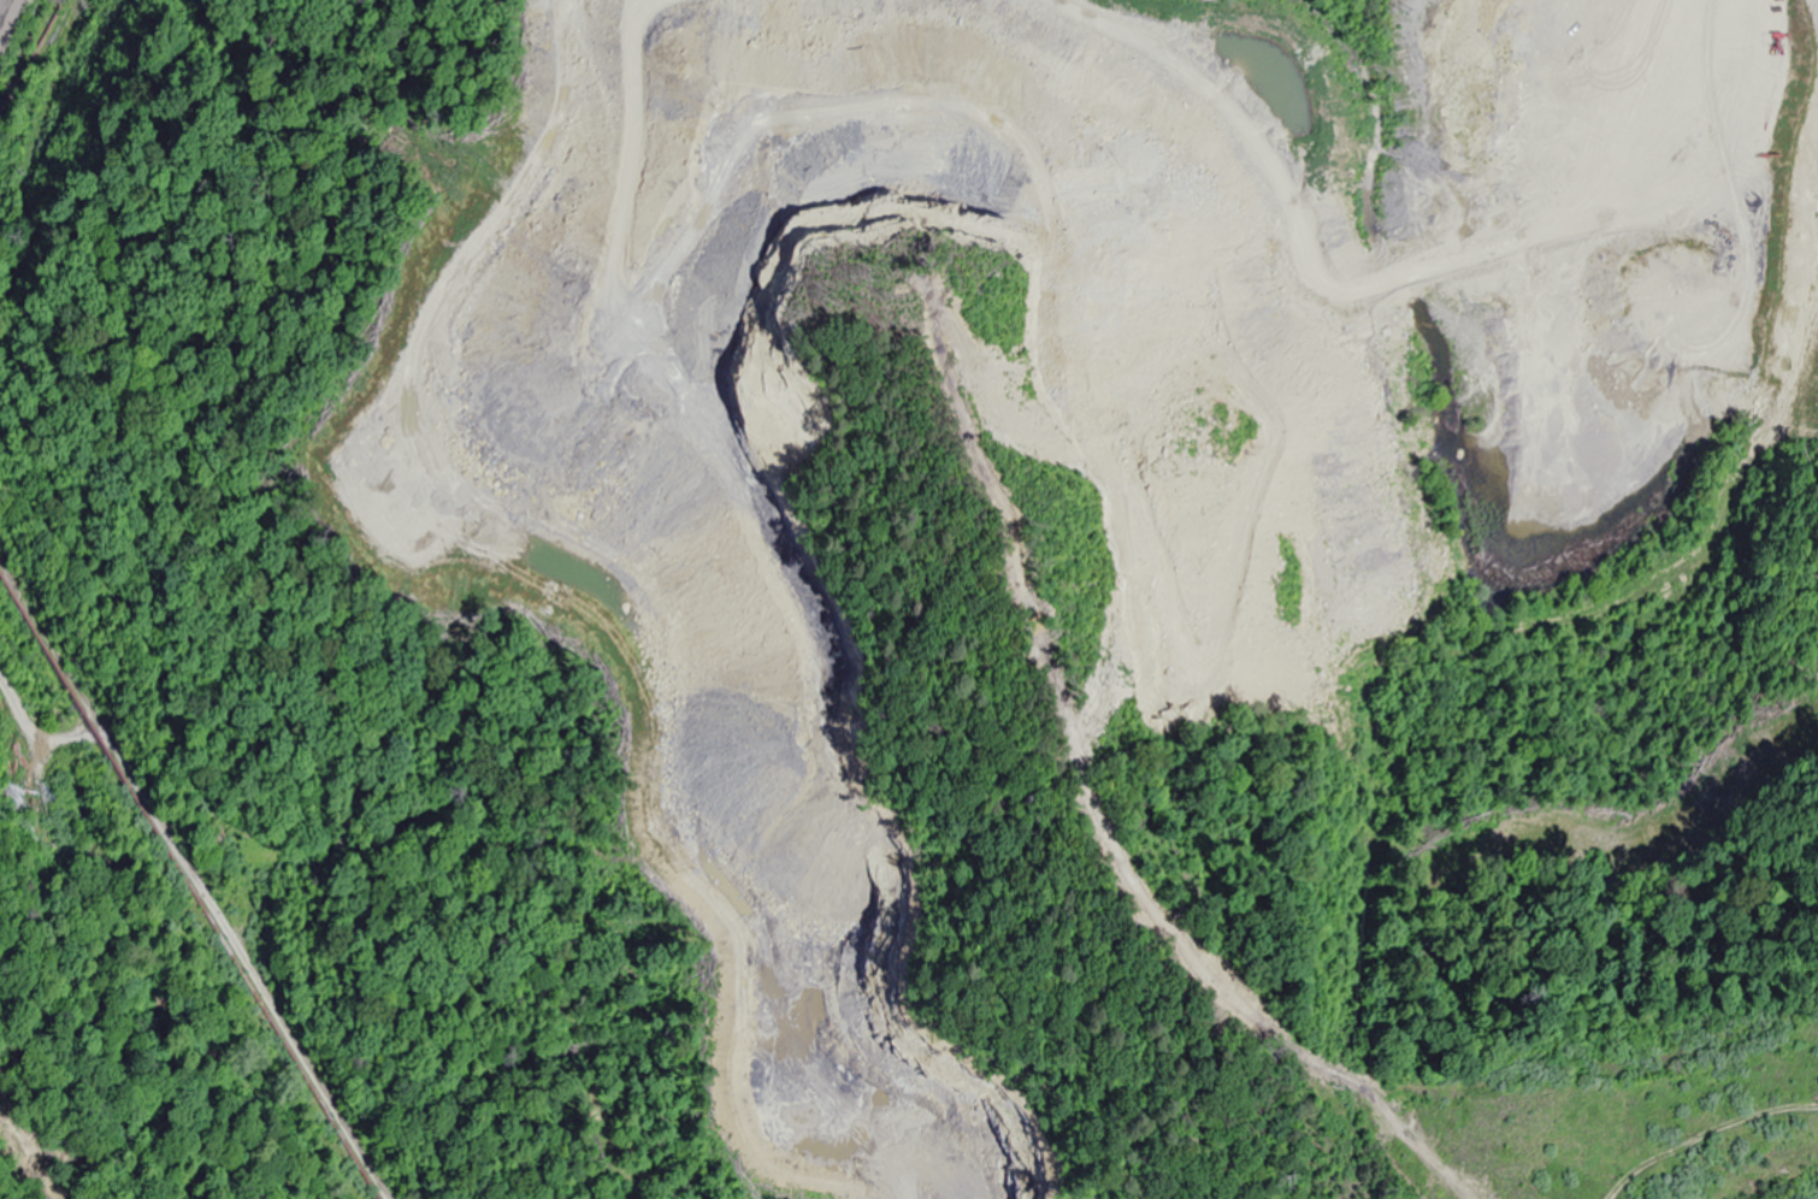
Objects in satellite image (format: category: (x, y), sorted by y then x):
quarry: (1564, 184)
quarry: (98, 358)

